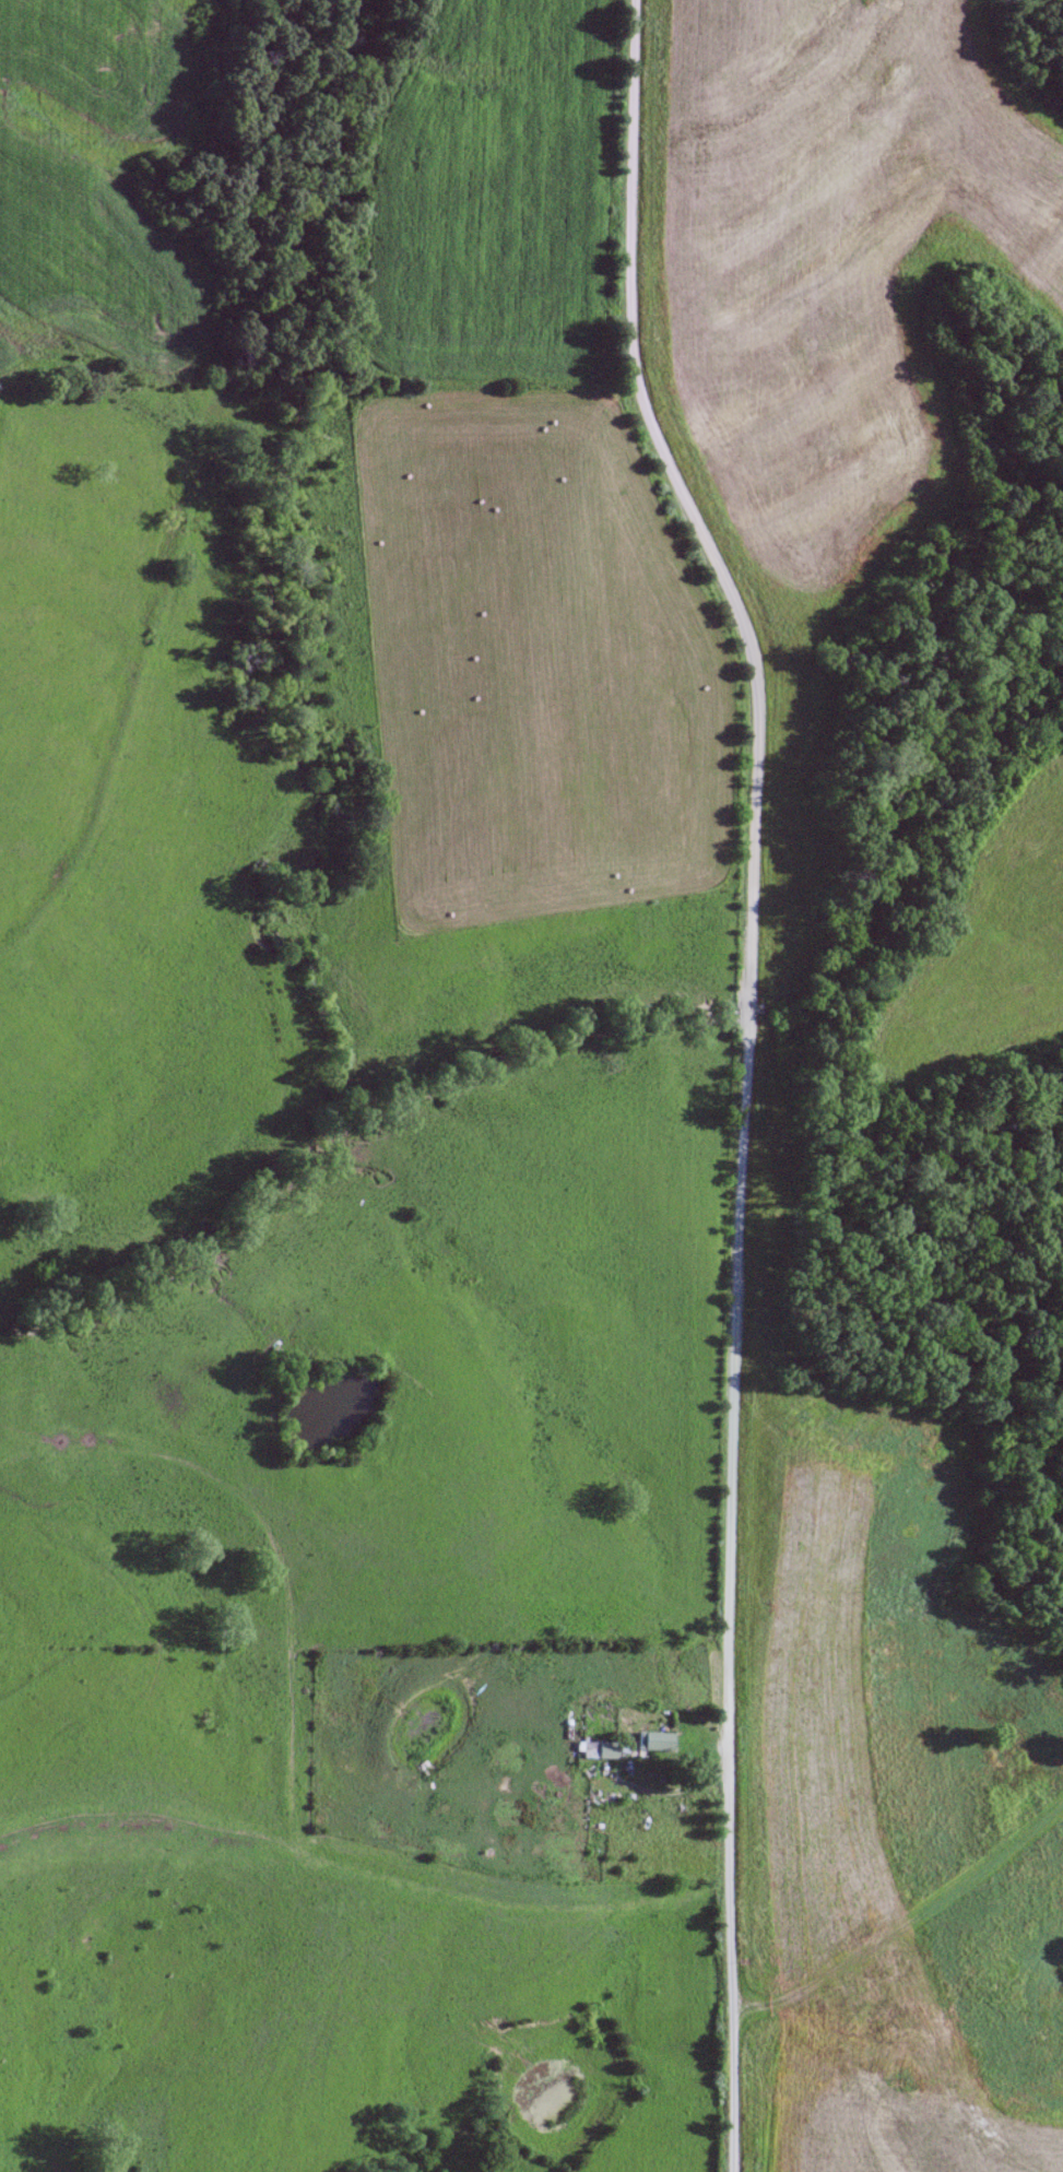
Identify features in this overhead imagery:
road: (746, 1073)
road: (364, 1641)
building: (655, 1740)
building: (600, 1749)
road: (668, 1796)
road: (908, 1927)

